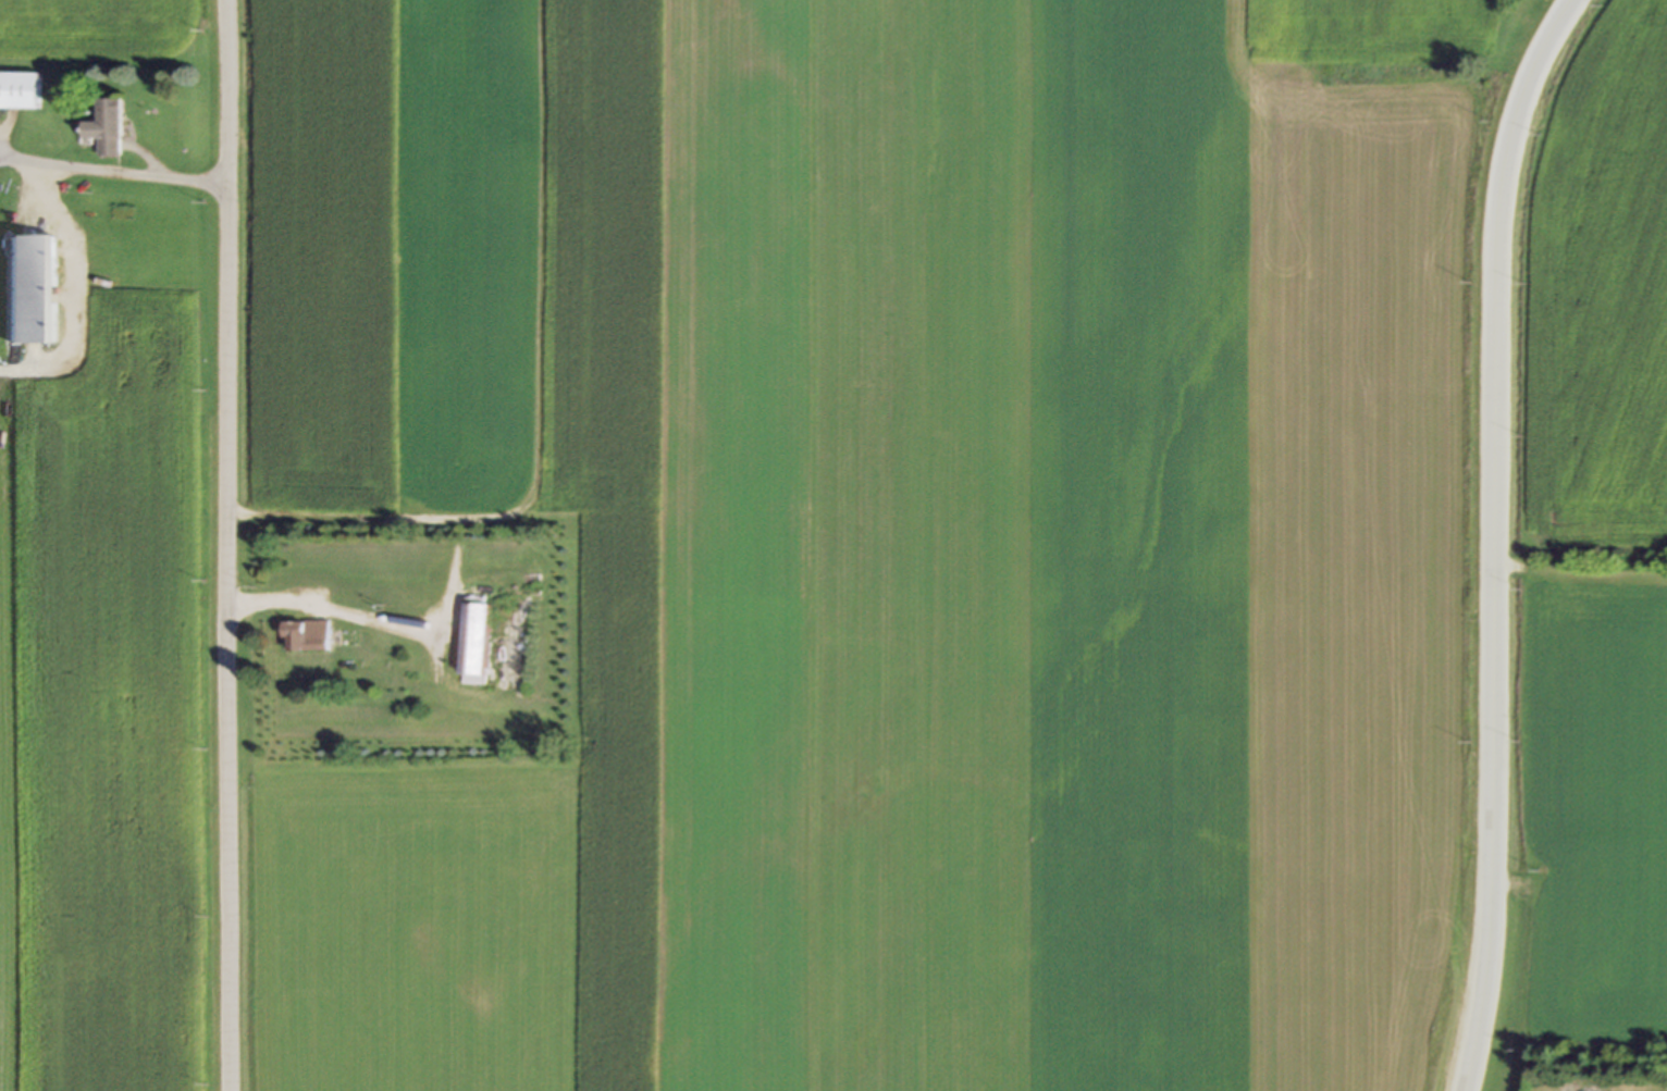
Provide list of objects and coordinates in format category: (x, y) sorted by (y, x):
building: (20, 91)
building: (106, 128)
road: (113, 169)
road: (1495, 538)
road: (229, 545)
road: (329, 610)
building: (304, 636)
building: (472, 644)

